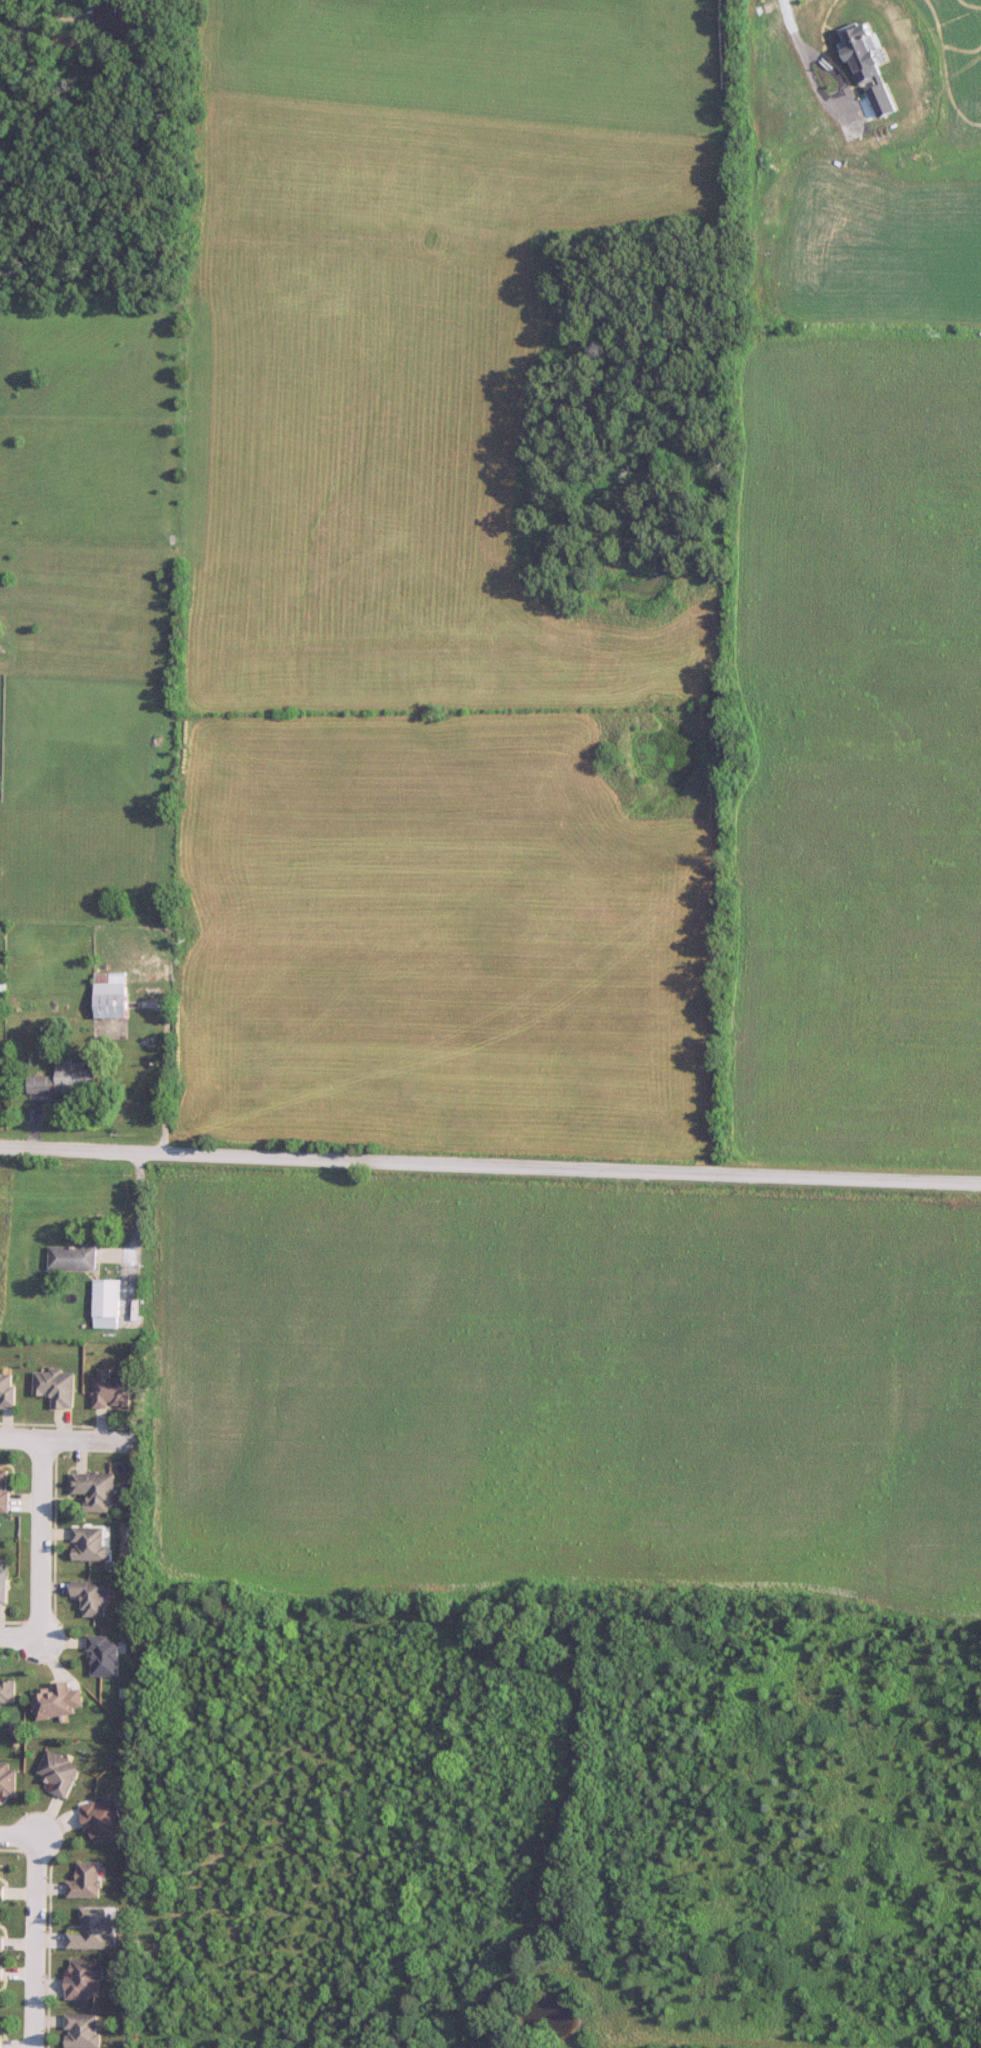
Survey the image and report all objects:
road: (55, 12)
building: (124, 17)
road: (787, 22)
road: (840, 98)
building: (111, 996)
road: (163, 1067)
building: (65, 1081)
road: (490, 1170)
road: (133, 1234)
building: (73, 1257)
building: (108, 1299)
building: (57, 1388)
building: (7, 1390)
building: (113, 1393)
road: (69, 1441)
building: (5, 1491)
building: (97, 1491)
road: (41, 1539)
building: (91, 1544)
building: (3, 1586)
building: (93, 1597)
road: (20, 1637)
building: (106, 1656)
building: (8, 1692)
building: (54, 1702)
building: (61, 1773)
building: (8, 1782)
building: (103, 1821)
road: (18, 1839)
building: (86, 1882)
building: (2, 1885)
building: (93, 1931)
building: (2, 1944)
road: (34, 1944)
building: (2, 1973)
building: (85, 1979)
building: (83, 2031)
building: (0, 2042)

